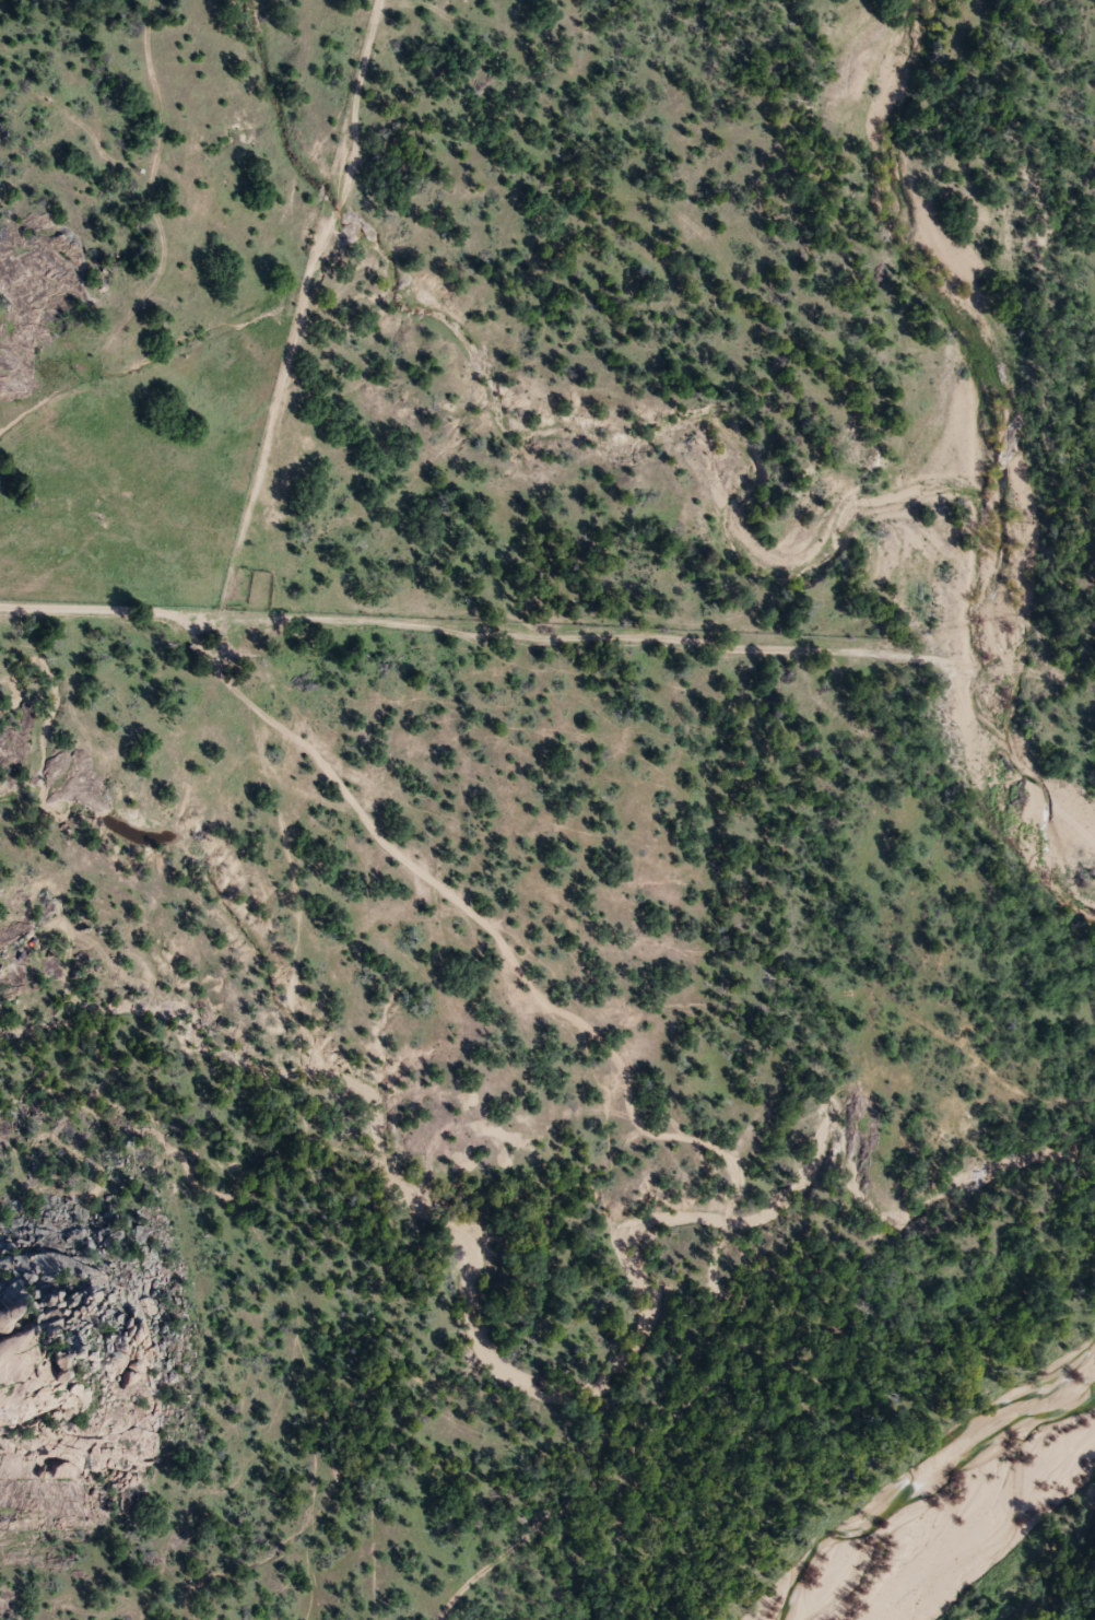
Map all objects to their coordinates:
road: (437, 629)
river: (990, 1523)

